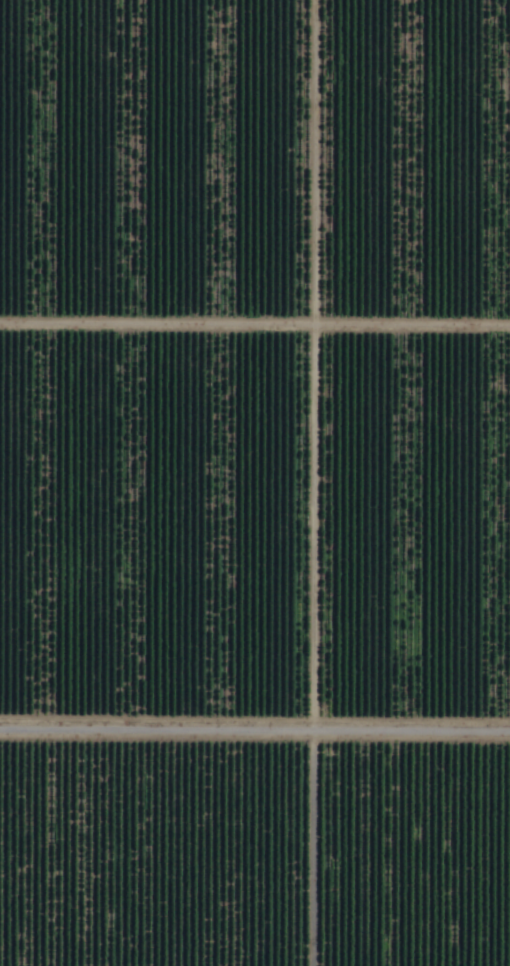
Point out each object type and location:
road: (256, 298)
crop: (255, 483)

